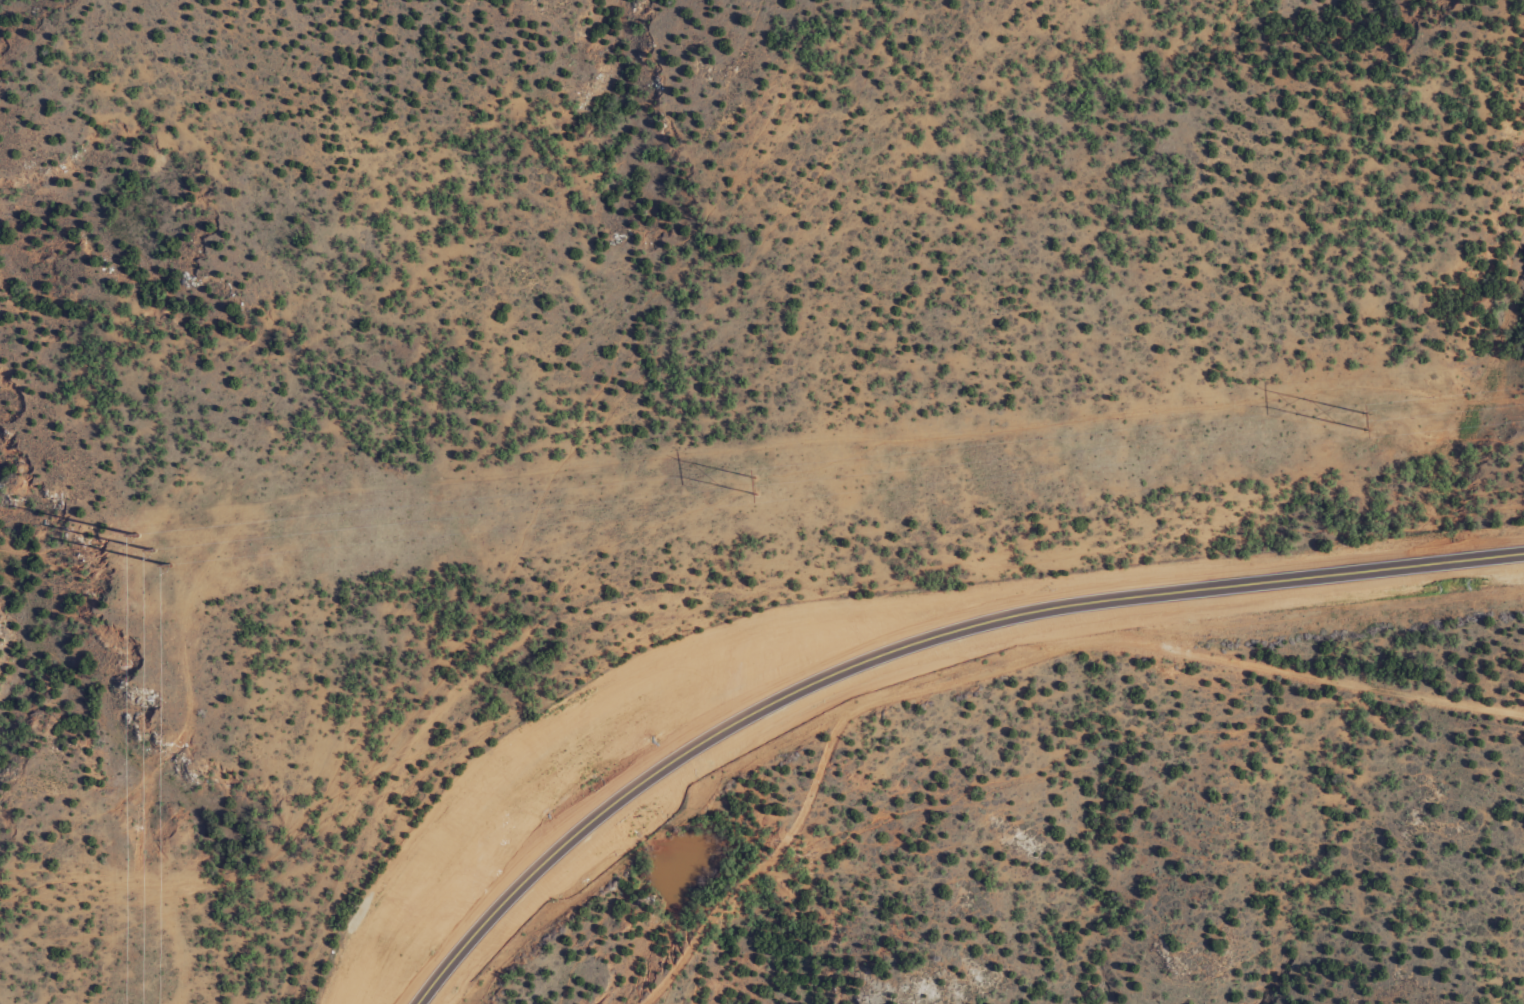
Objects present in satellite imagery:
power tower: (1361, 415)
power tower: (754, 482)
power tower: (149, 550)
road: (860, 629)

